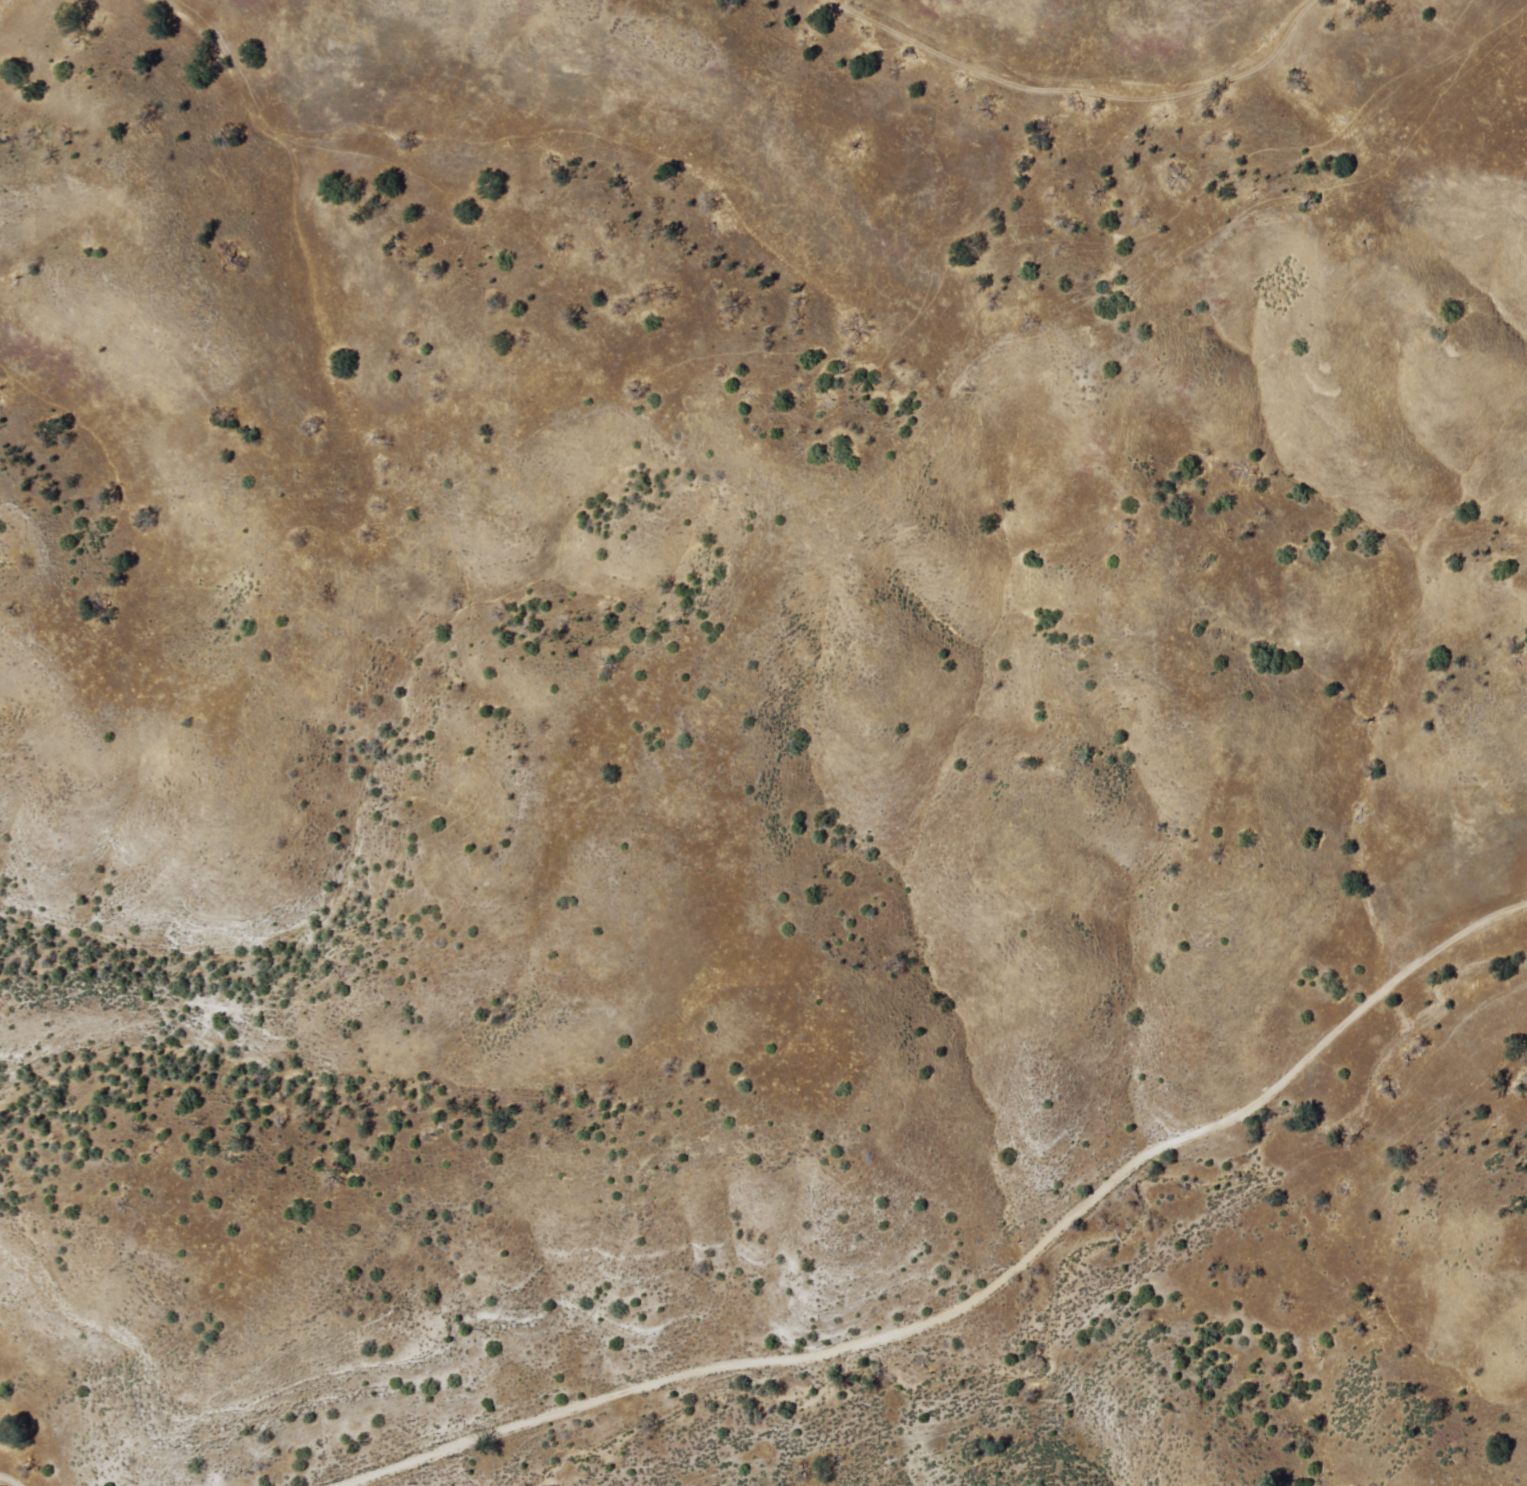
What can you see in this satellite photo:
road: (1084, 92)
road: (979, 1292)

